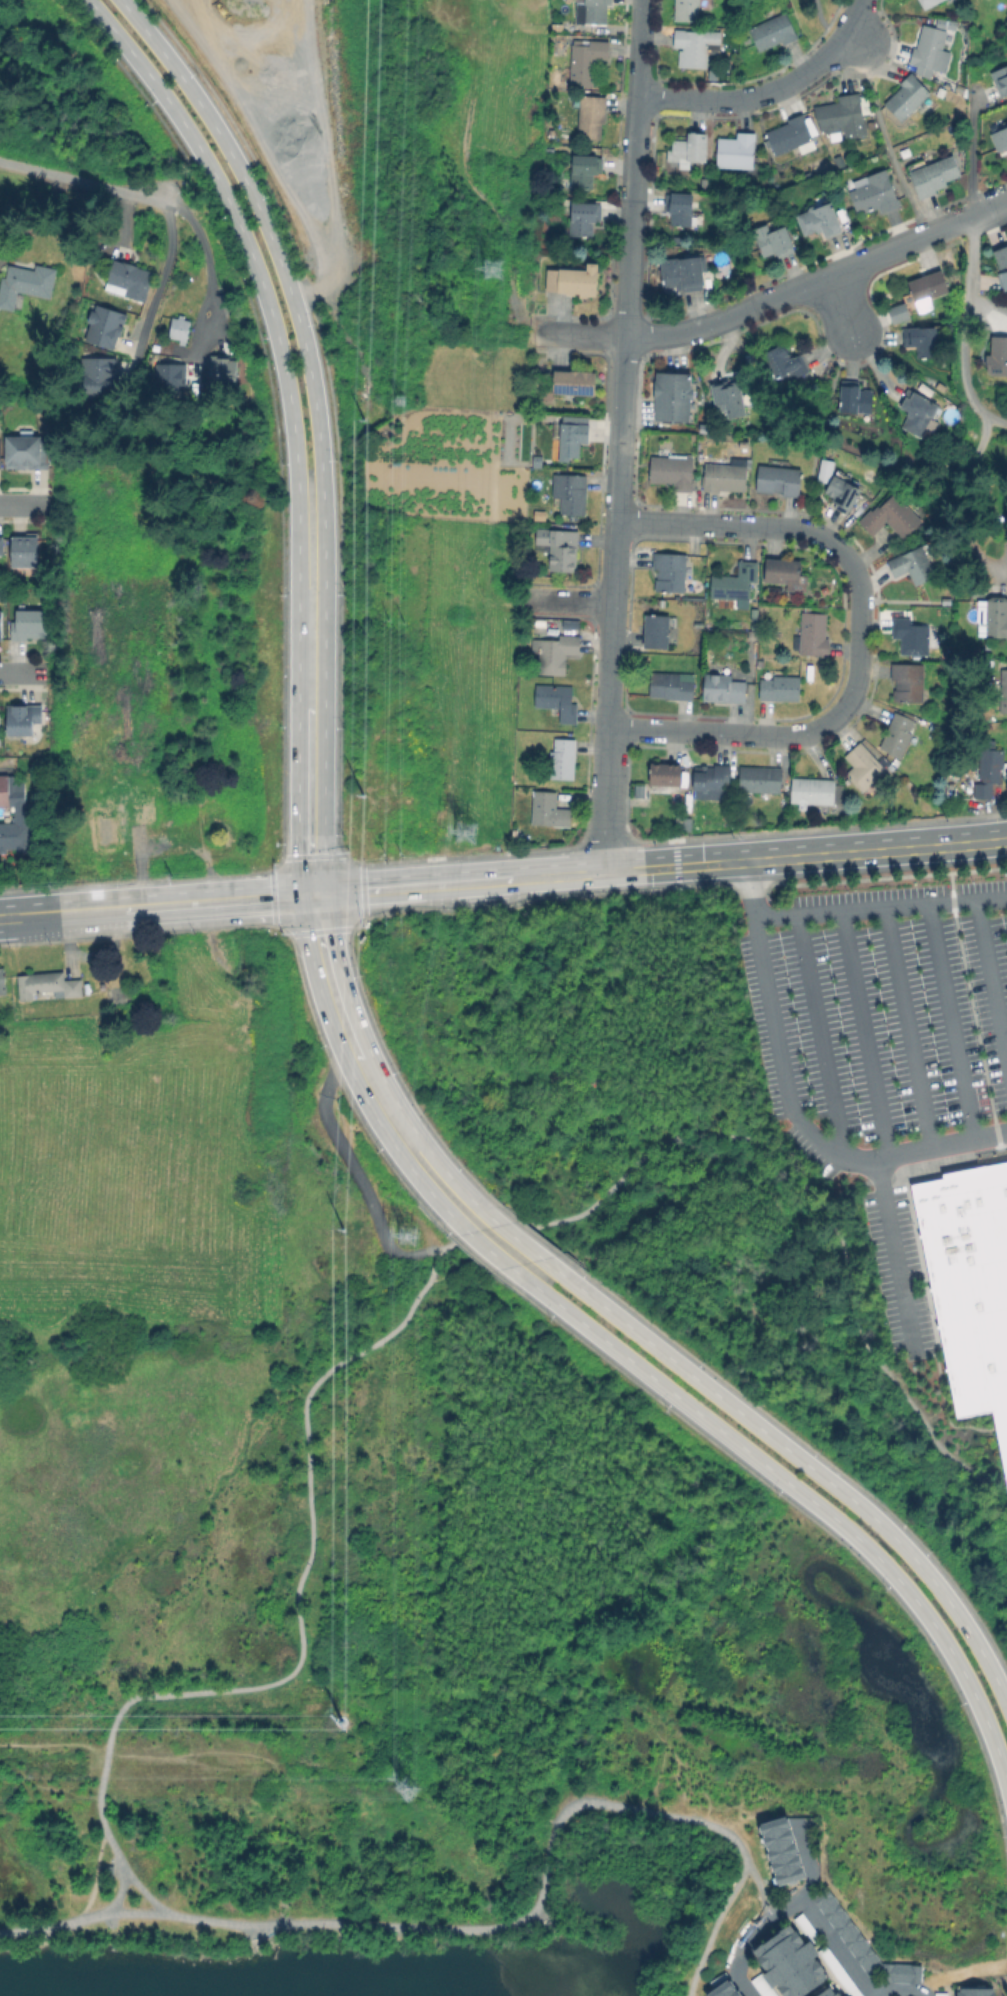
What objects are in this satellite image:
building: (930, 5)
building: (593, 12)
building: (687, 12)
park: (812, 17)
building: (944, 22)
road: (824, 24)
building: (555, 25)
building: (775, 33)
building: (695, 49)
building: (932, 52)
building: (587, 62)
building: (999, 79)
road: (773, 94)
building: (907, 96)
building: (839, 116)
building: (591, 117)
building: (792, 136)
road: (885, 137)
building: (999, 138)
building: (689, 151)
building: (737, 152)
road: (969, 153)
building: (839, 161)
building: (585, 173)
road: (180, 174)
building: (932, 174)
road: (82, 181)
building: (704, 182)
building: (873, 191)
road: (990, 207)
building: (680, 210)
building: (584, 219)
building: (821, 219)
road: (38, 221)
building: (770, 240)
road: (204, 245)
building: (999, 253)
power tower: (496, 266)
building: (685, 274)
building: (129, 278)
building: (574, 281)
building: (27, 282)
building: (988, 289)
road: (156, 294)
road: (772, 296)
building: (919, 297)
road: (838, 301)
building: (106, 326)
road: (274, 327)
building: (180, 329)
road: (965, 329)
building: (919, 337)
building: (996, 355)
building: (782, 364)
building: (218, 370)
building: (166, 372)
building: (98, 378)
building: (574, 382)
building: (671, 395)
building: (726, 396)
building: (855, 398)
power tower: (364, 399)
power tower: (402, 399)
building: (917, 411)
building: (570, 436)
road: (620, 437)
building: (28, 453)
building: (673, 471)
building: (726, 478)
building: (780, 480)
building: (842, 490)
building: (571, 494)
road: (963, 494)
road: (26, 504)
building: (889, 515)
building: (1, 546)
building: (558, 547)
building: (26, 551)
building: (911, 565)
building: (671, 573)
building: (787, 575)
building: (736, 583)
road: (566, 604)
building: (991, 617)
building: (0, 626)
building: (31, 626)
building: (658, 632)
road: (859, 634)
building: (815, 635)
building: (909, 635)
building: (556, 653)
road: (26, 671)
building: (906, 682)
building: (671, 687)
building: (781, 688)
building: (723, 689)
building: (1002, 692)
building: (556, 701)
building: (24, 719)
building: (0, 721)
building: (899, 736)
building: (564, 759)
building: (862, 764)
building: (988, 773)
building: (666, 775)
building: (710, 777)
building: (761, 780)
building: (813, 792)
building: (641, 793)
road: (298, 802)
building: (142, 810)
building: (549, 811)
building: (14, 814)
power tower: (363, 818)
building: (221, 823)
building: (684, 823)
building: (105, 825)
power tower: (470, 832)
road: (667, 868)
traffic signals: (328, 895)
traffic signals: (302, 897)
road: (163, 906)
road: (879, 907)
road: (339, 965)
building: (4, 981)
road: (989, 984)
building: (47, 986)
road: (970, 990)
road: (948, 1021)
road: (905, 1027)
road: (861, 1033)
road: (816, 1035)
parking lot: (883, 1044)
road: (790, 1103)
road: (683, 1134)
park: (668, 1170)
road: (355, 1176)
power tower: (339, 1227)
power tower: (406, 1238)
road: (443, 1249)
road: (890, 1257)
road: (848, 1260)
building: (970, 1286)
road: (626, 1357)
road: (933, 1439)
road: (296, 1606)
park: (464, 1671)
power tower: (340, 1720)
power tower: (409, 1785)
building: (783, 1852)
road: (760, 1890)
road: (119, 1894)
road: (136, 1911)
road: (51, 1927)
road: (711, 1928)
building: (809, 1928)
road: (478, 1929)
road: (826, 1933)
building: (864, 1944)
road: (742, 1951)
building: (792, 1962)
building: (841, 1972)
building: (763, 1986)
building: (725, 1989)
road: (903, 1989)
building: (831, 1992)
building: (977, 1992)
building: (942, 1995)

